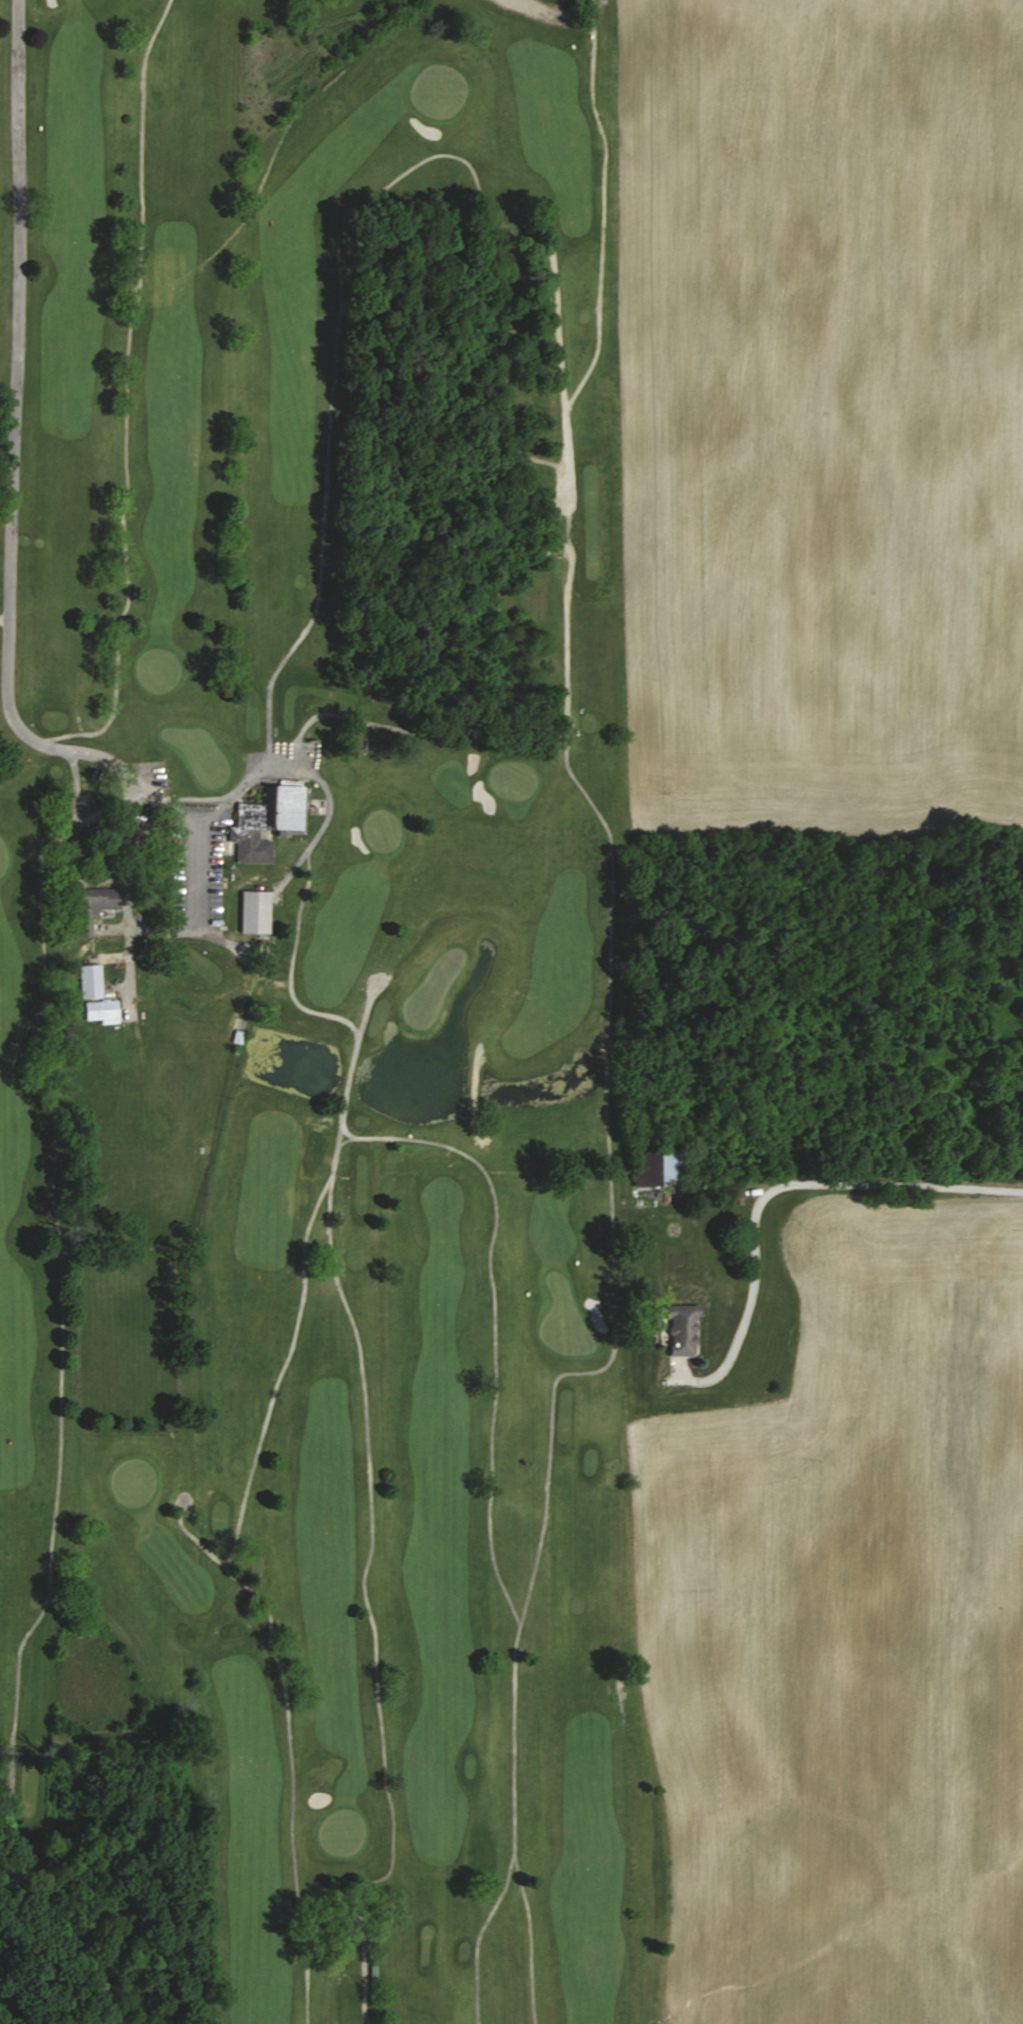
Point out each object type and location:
road: (13, 545)
road: (317, 776)
road: (860, 793)
building: (270, 821)
road: (200, 837)
building: (90, 908)
building: (256, 912)
building: (91, 982)
building: (102, 1011)
building: (658, 1170)
road: (771, 1194)
building: (684, 1331)

